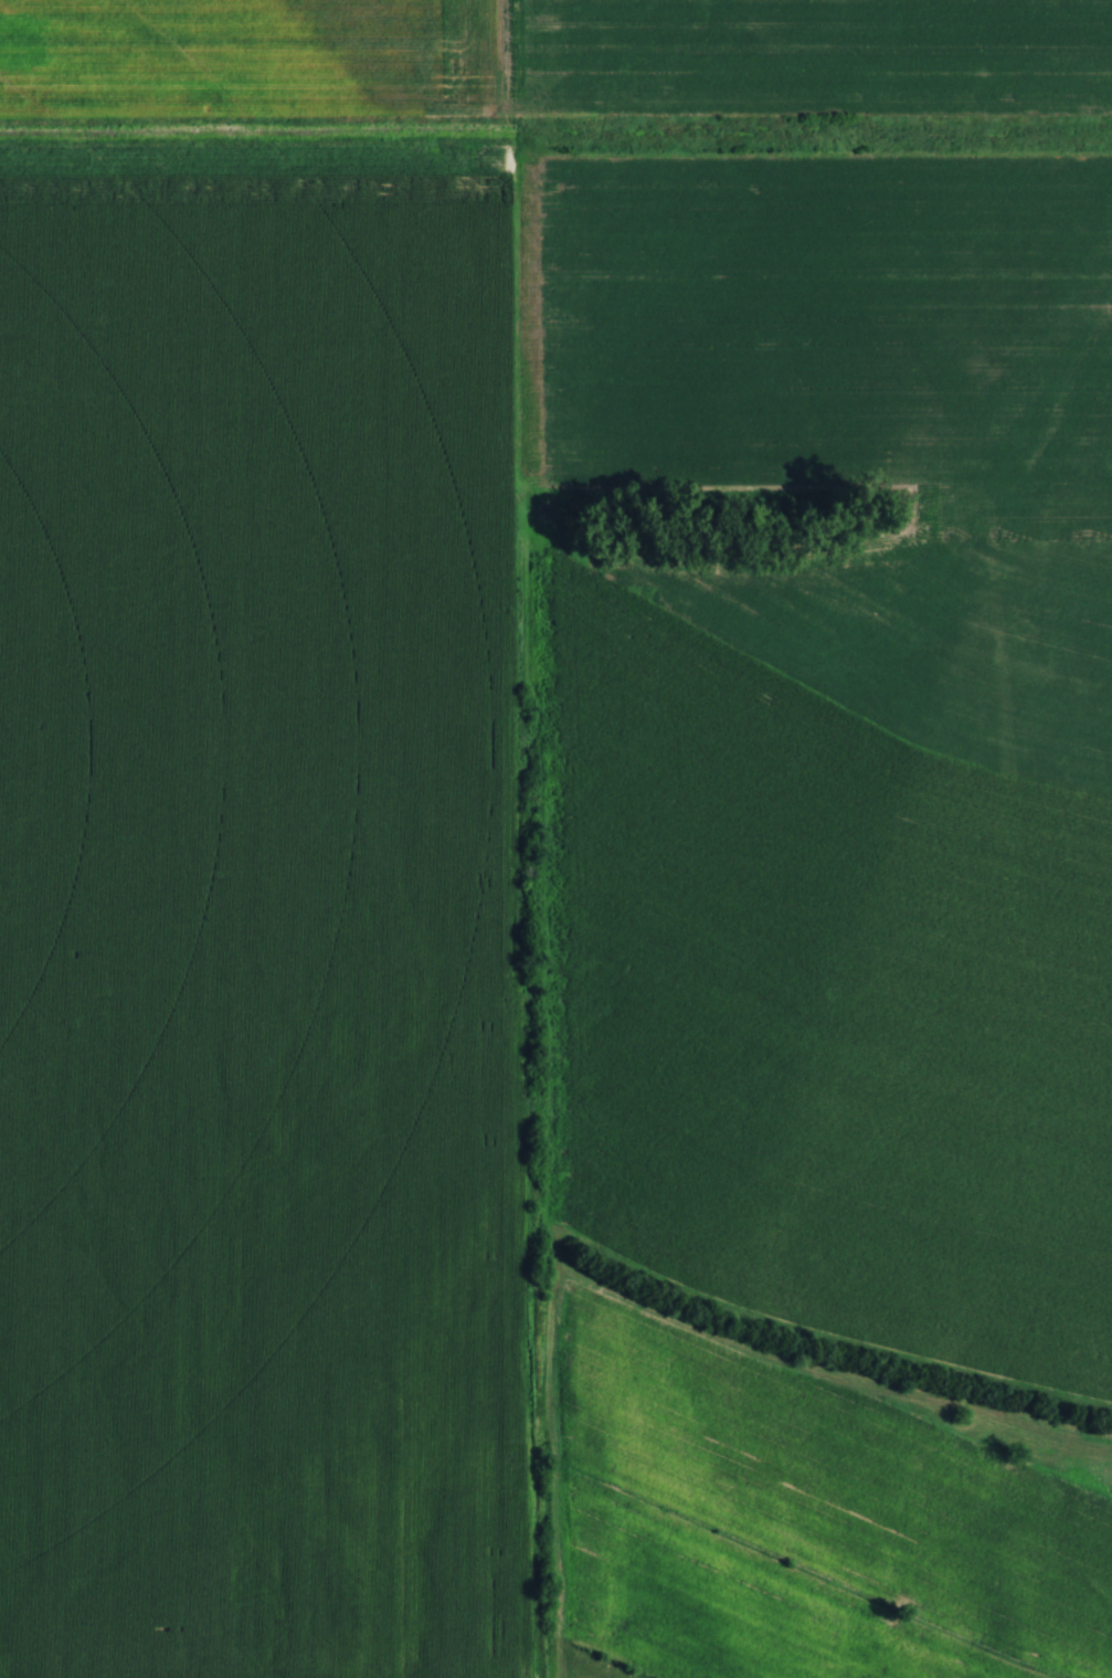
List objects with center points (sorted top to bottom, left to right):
river: (555, 135)

